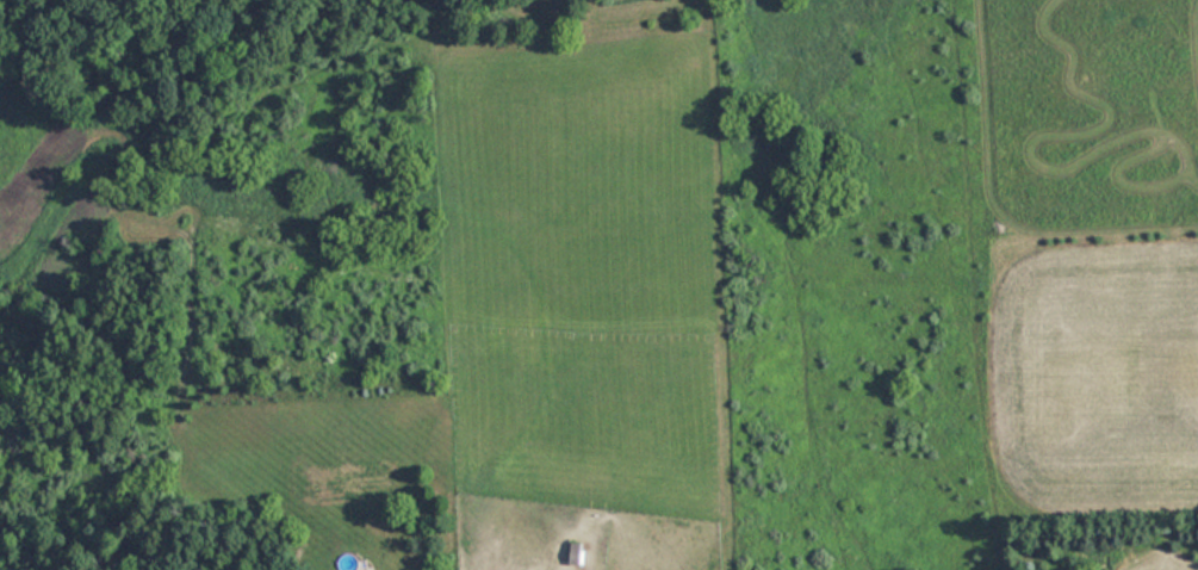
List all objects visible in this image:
building: (576, 553)

